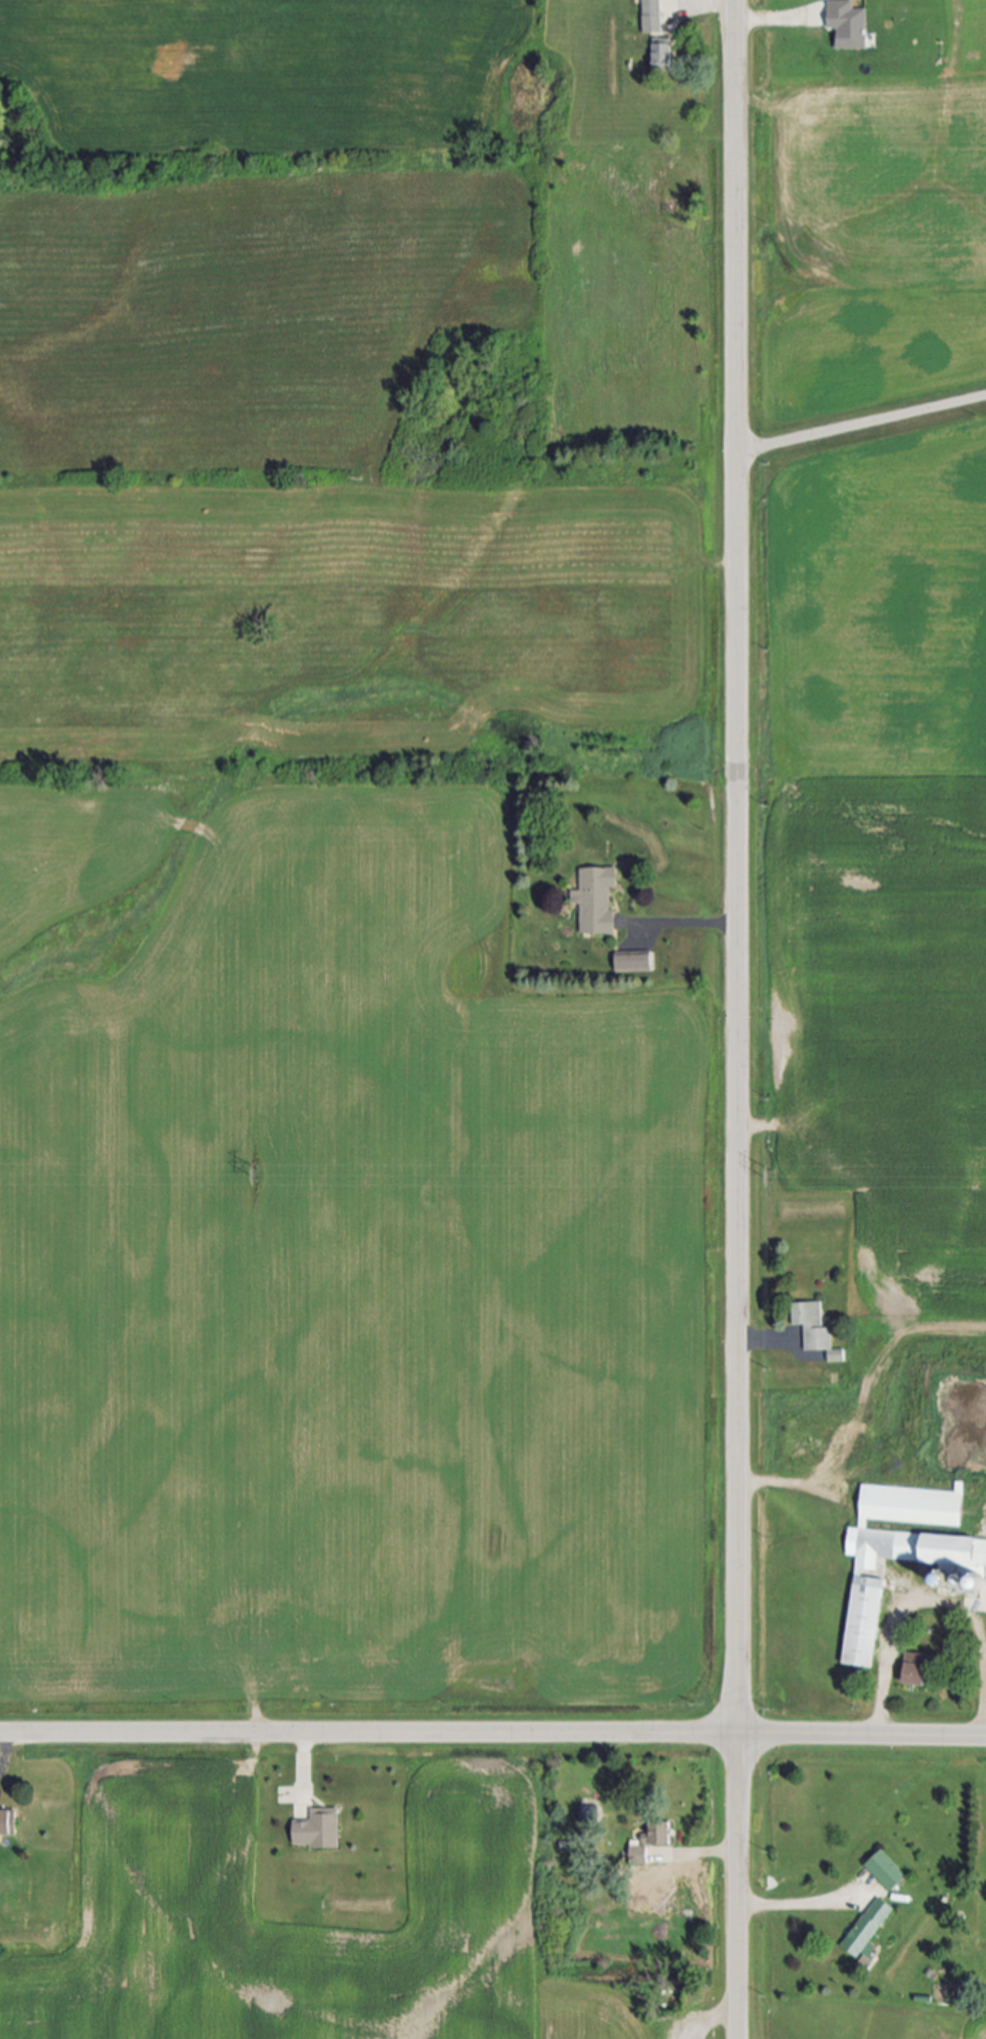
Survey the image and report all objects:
road: (708, 5)
building: (653, 16)
building: (849, 23)
building: (663, 55)
road: (862, 425)
crop: (349, 887)
building: (596, 900)
road: (690, 924)
building: (633, 963)
road: (738, 1019)
power tower: (265, 1176)
power tower: (771, 1179)
building: (812, 1327)
road: (764, 1343)
building: (819, 1416)
road: (794, 1481)
building: (899, 1553)
road: (935, 1599)
building: (916, 1670)
road: (493, 1733)
road: (302, 1769)
building: (589, 1814)
building: (5, 1825)
building: (319, 1830)
crop: (165, 1831)
building: (661, 1832)
building: (886, 1872)
road: (796, 1904)
building: (867, 1929)

